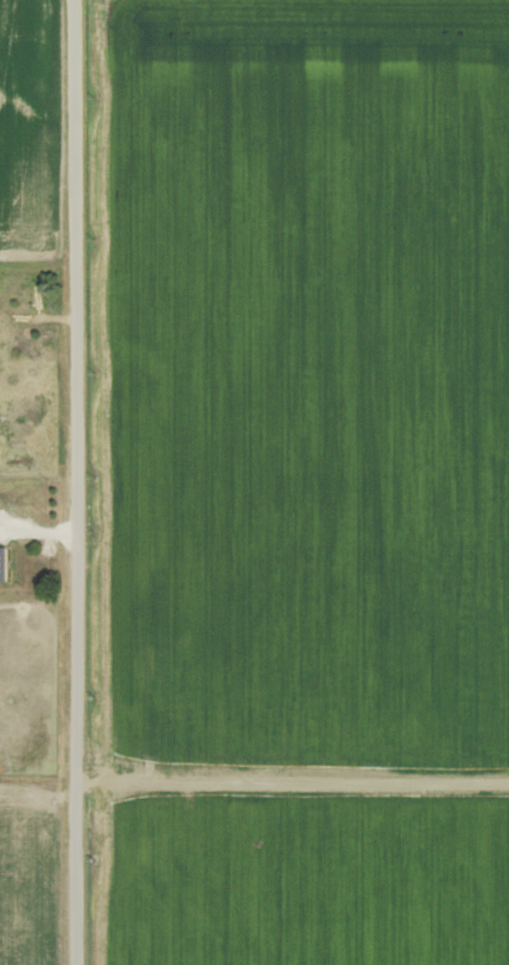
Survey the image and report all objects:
road: (78, 482)

